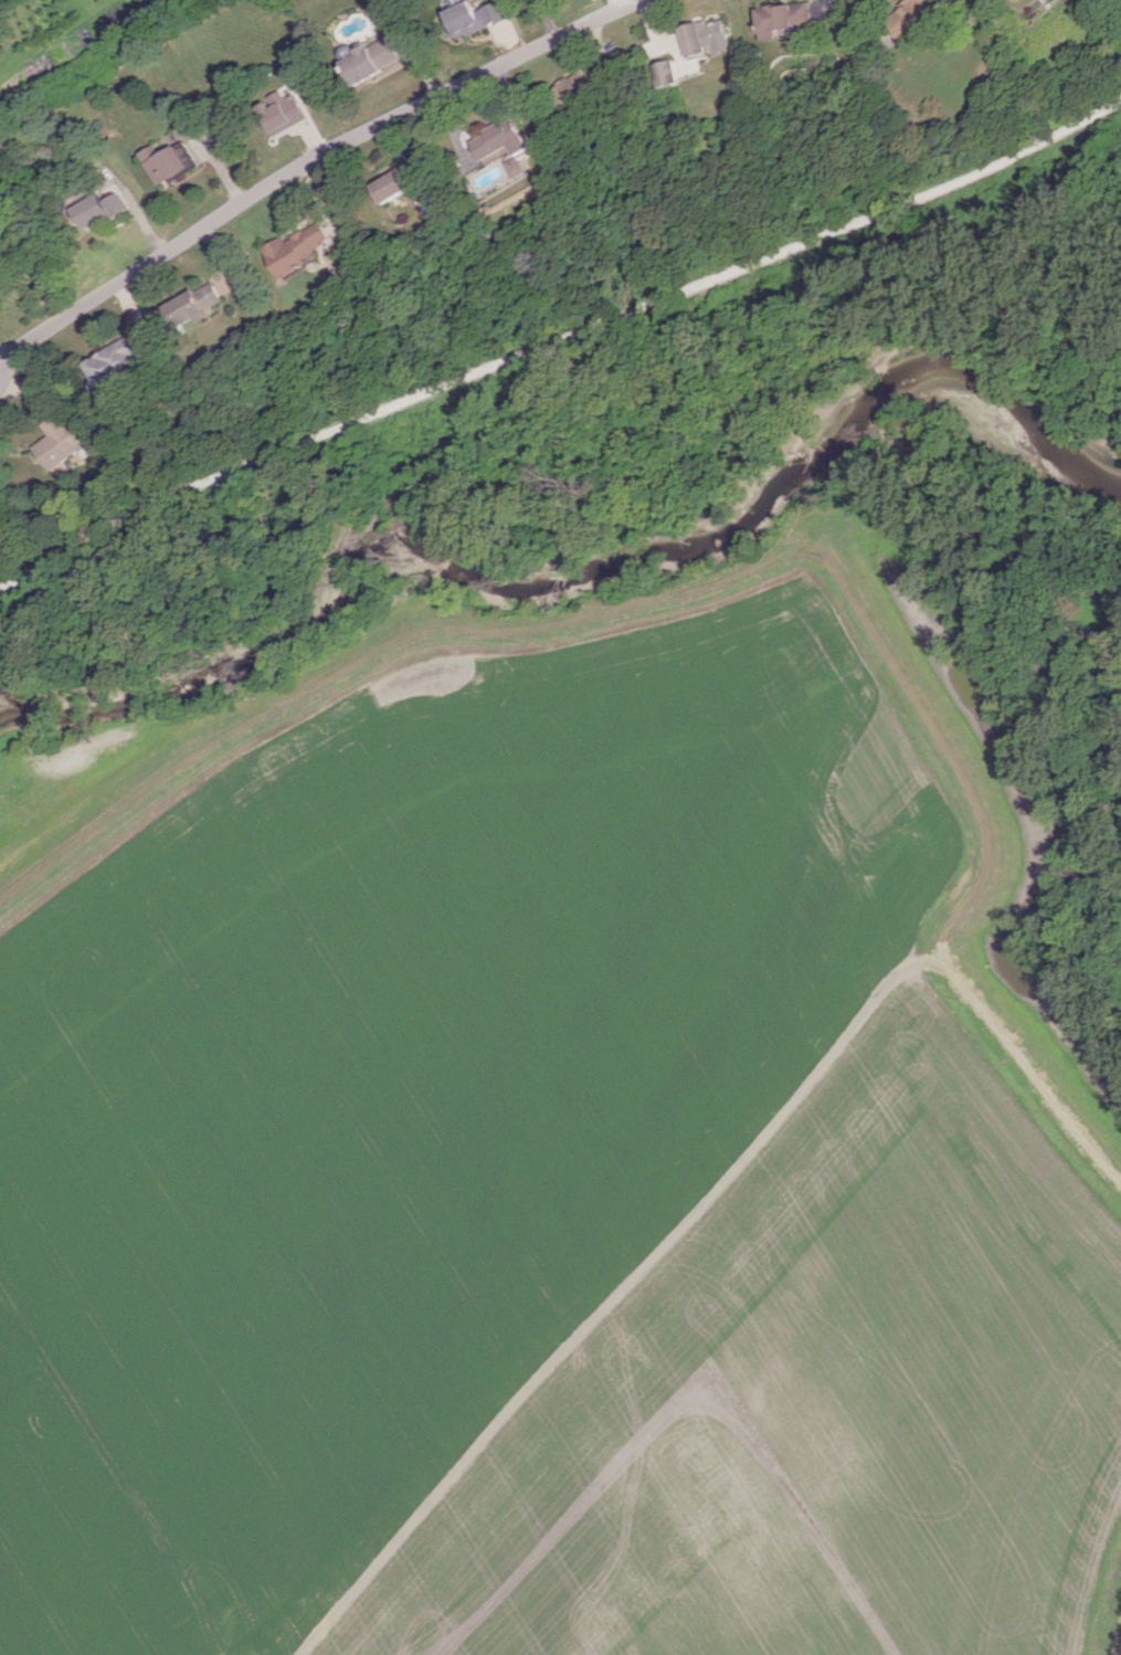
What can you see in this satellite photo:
road: (618, 3)
building: (474, 17)
building: (913, 17)
building: (784, 18)
road: (547, 20)
road: (871, 23)
building: (708, 36)
building: (370, 60)
building: (580, 83)
building: (283, 112)
building: (504, 138)
building: (475, 155)
road: (307, 160)
building: (169, 161)
building: (518, 166)
building: (399, 181)
building: (104, 211)
building: (297, 247)
building: (197, 303)
road: (556, 345)
building: (121, 360)
building: (60, 441)
road: (739, 574)
crop: (541, 1194)
road: (617, 1295)

